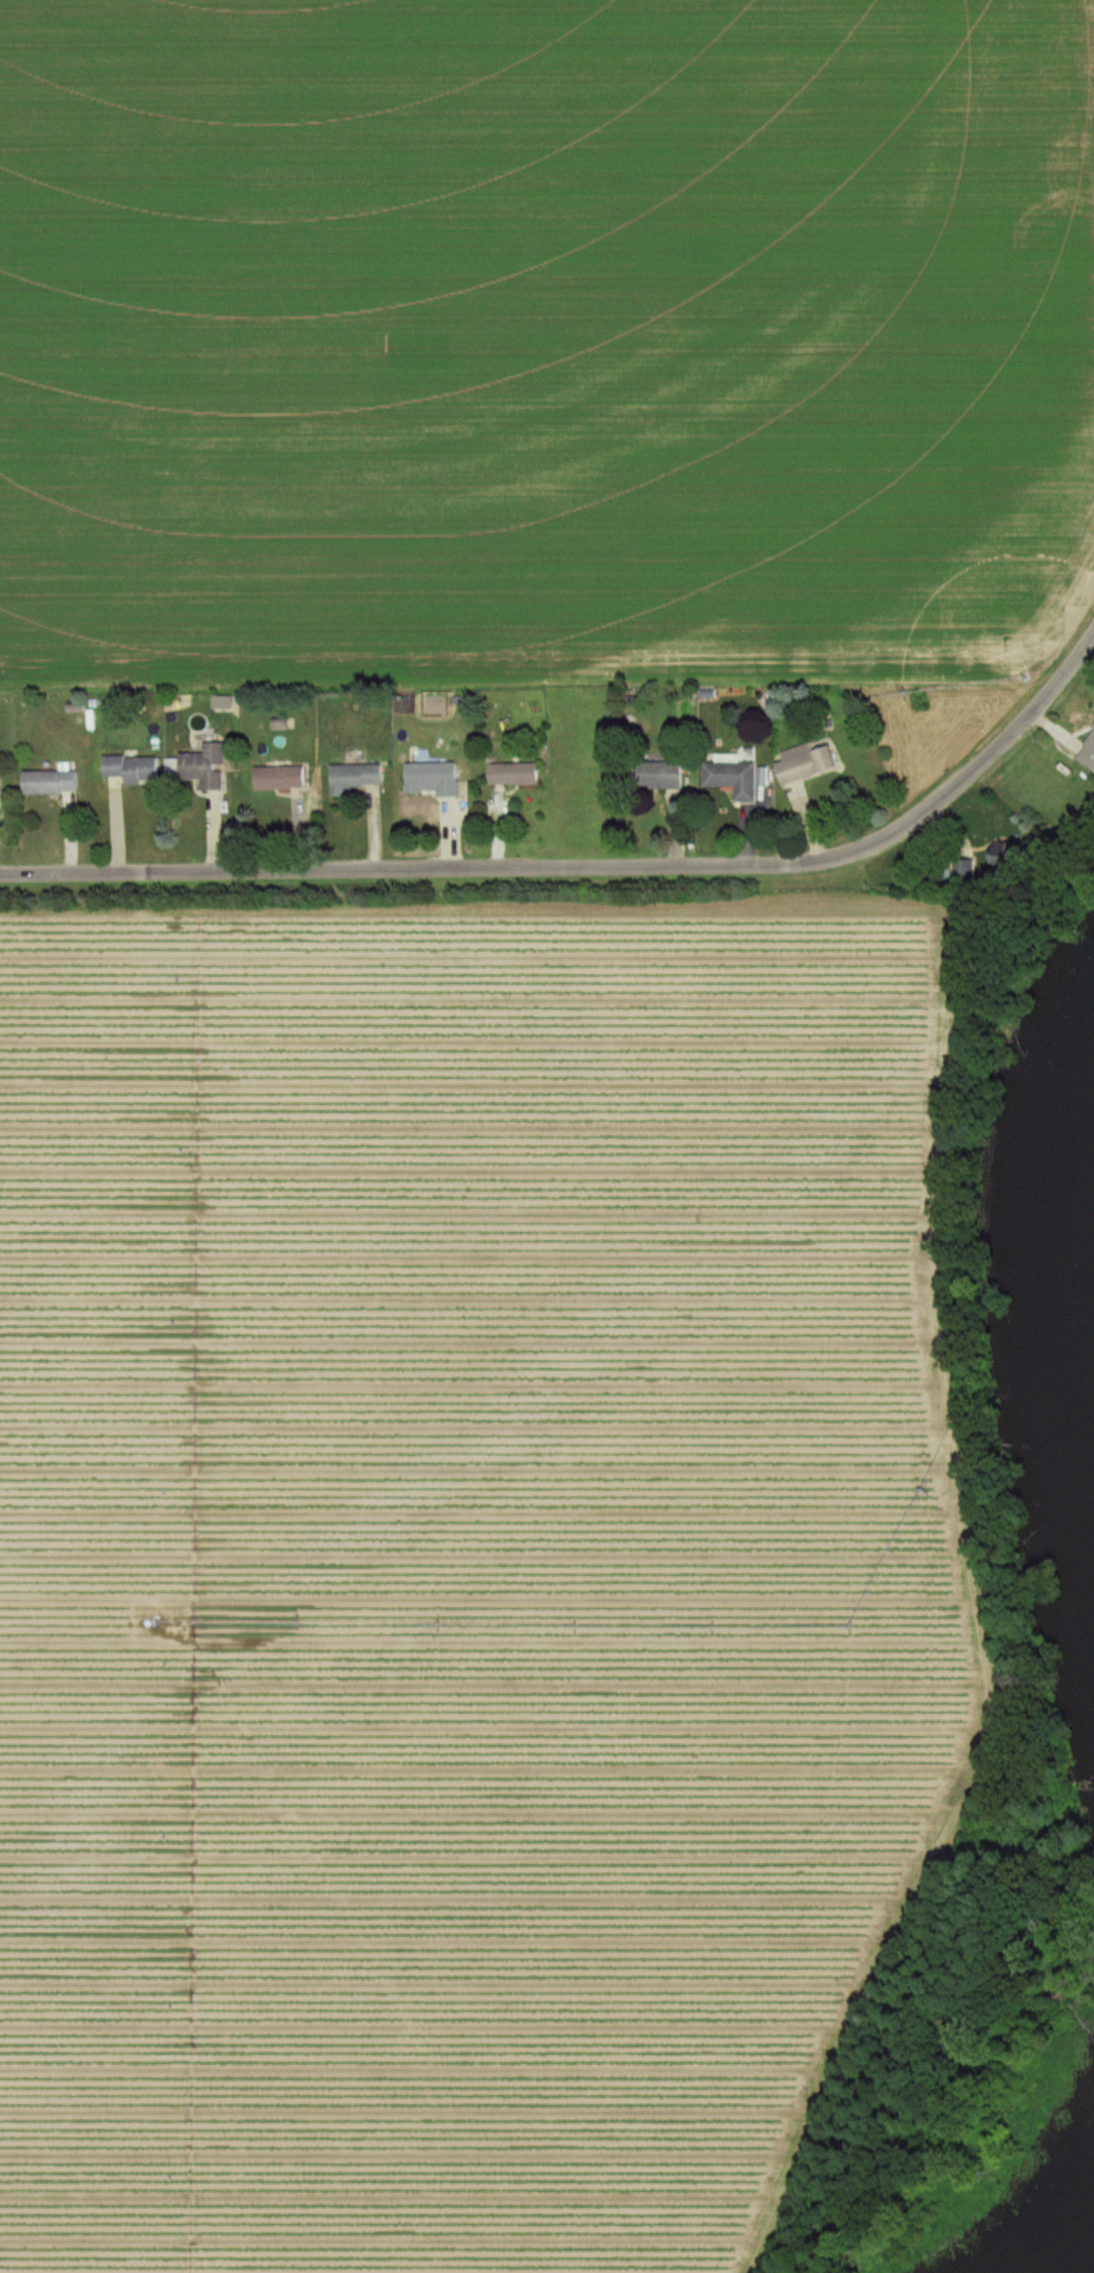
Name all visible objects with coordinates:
crop: (543, 334)
building: (1085, 752)
building: (799, 763)
building: (205, 768)
building: (135, 770)
building: (507, 775)
building: (650, 775)
building: (356, 777)
building: (281, 778)
building: (726, 778)
building: (427, 780)
building: (52, 784)
building: (0, 785)
road: (591, 866)
building: (959, 871)

